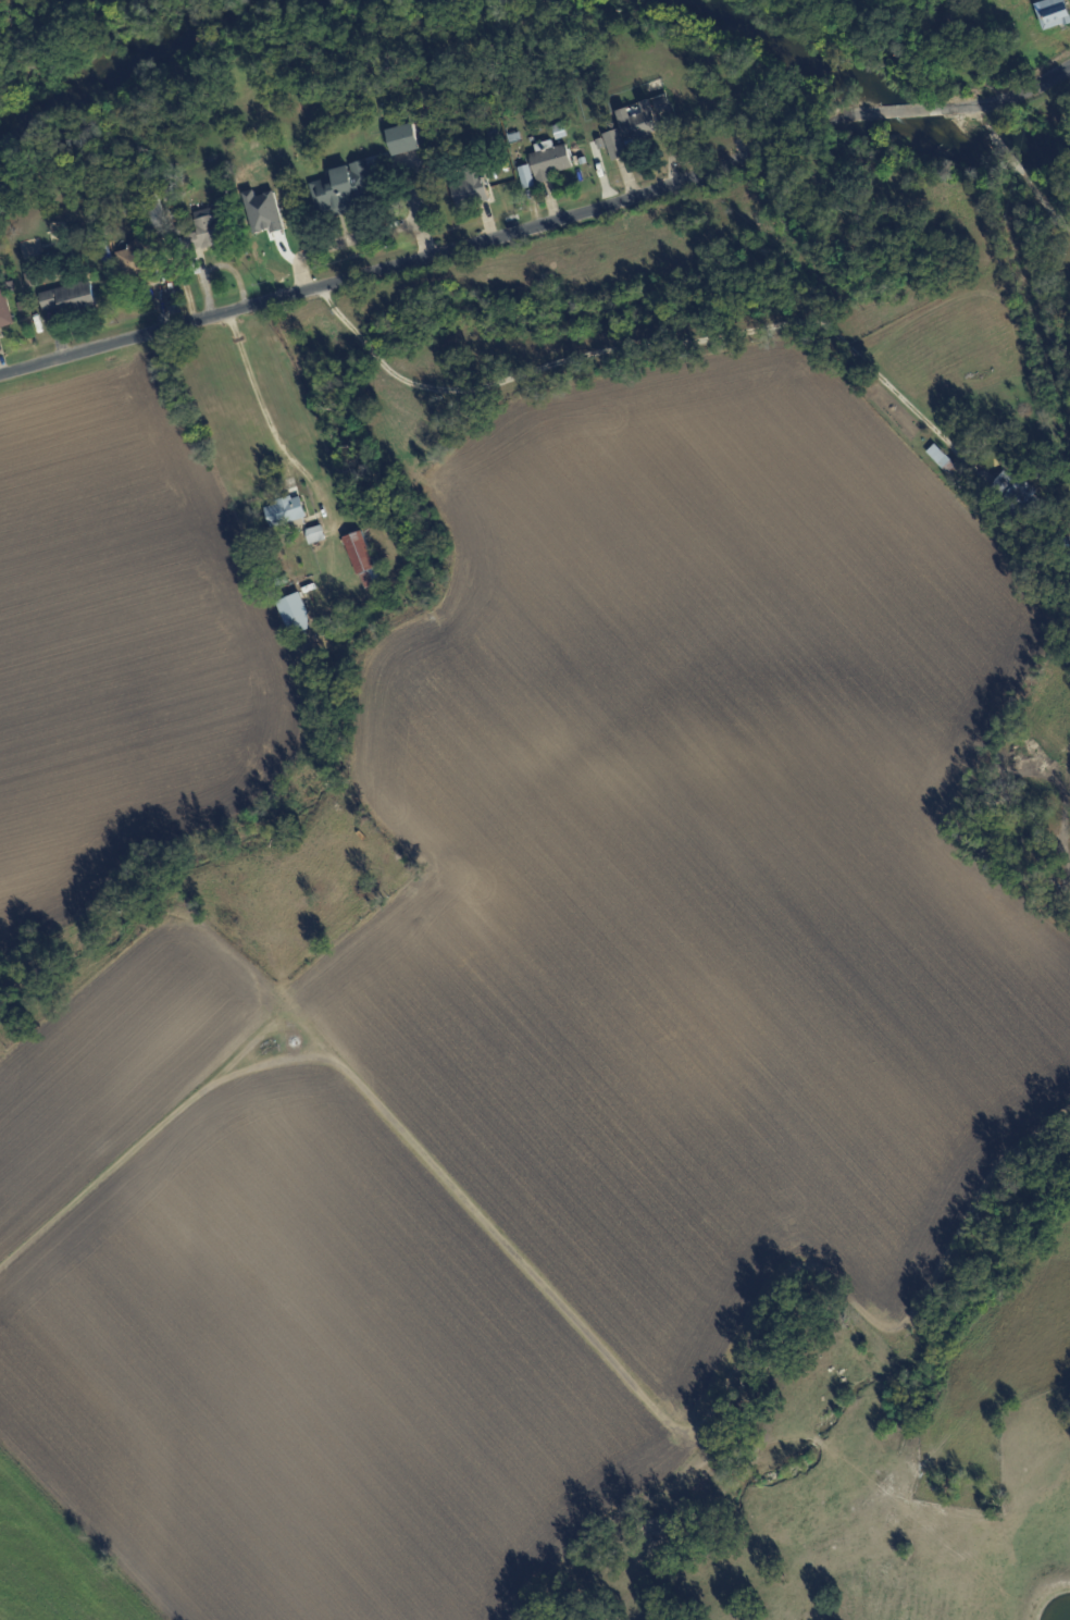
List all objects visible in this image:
building: (1055, 14)
road: (1011, 96)
road: (924, 111)
building: (633, 128)
building: (511, 131)
building: (401, 138)
building: (549, 161)
road: (1017, 165)
building: (525, 175)
building: (343, 187)
building: (468, 188)
building: (202, 231)
road: (453, 250)
building: (134, 258)
building: (69, 297)
building: (4, 309)
building: (0, 335)
road: (639, 346)
road: (273, 423)
building: (945, 460)
building: (1020, 499)
building: (293, 524)
crop: (804, 551)
building: (358, 553)
building: (295, 615)
crop: (121, 655)
crop: (497, 1122)
road: (446, 1186)

